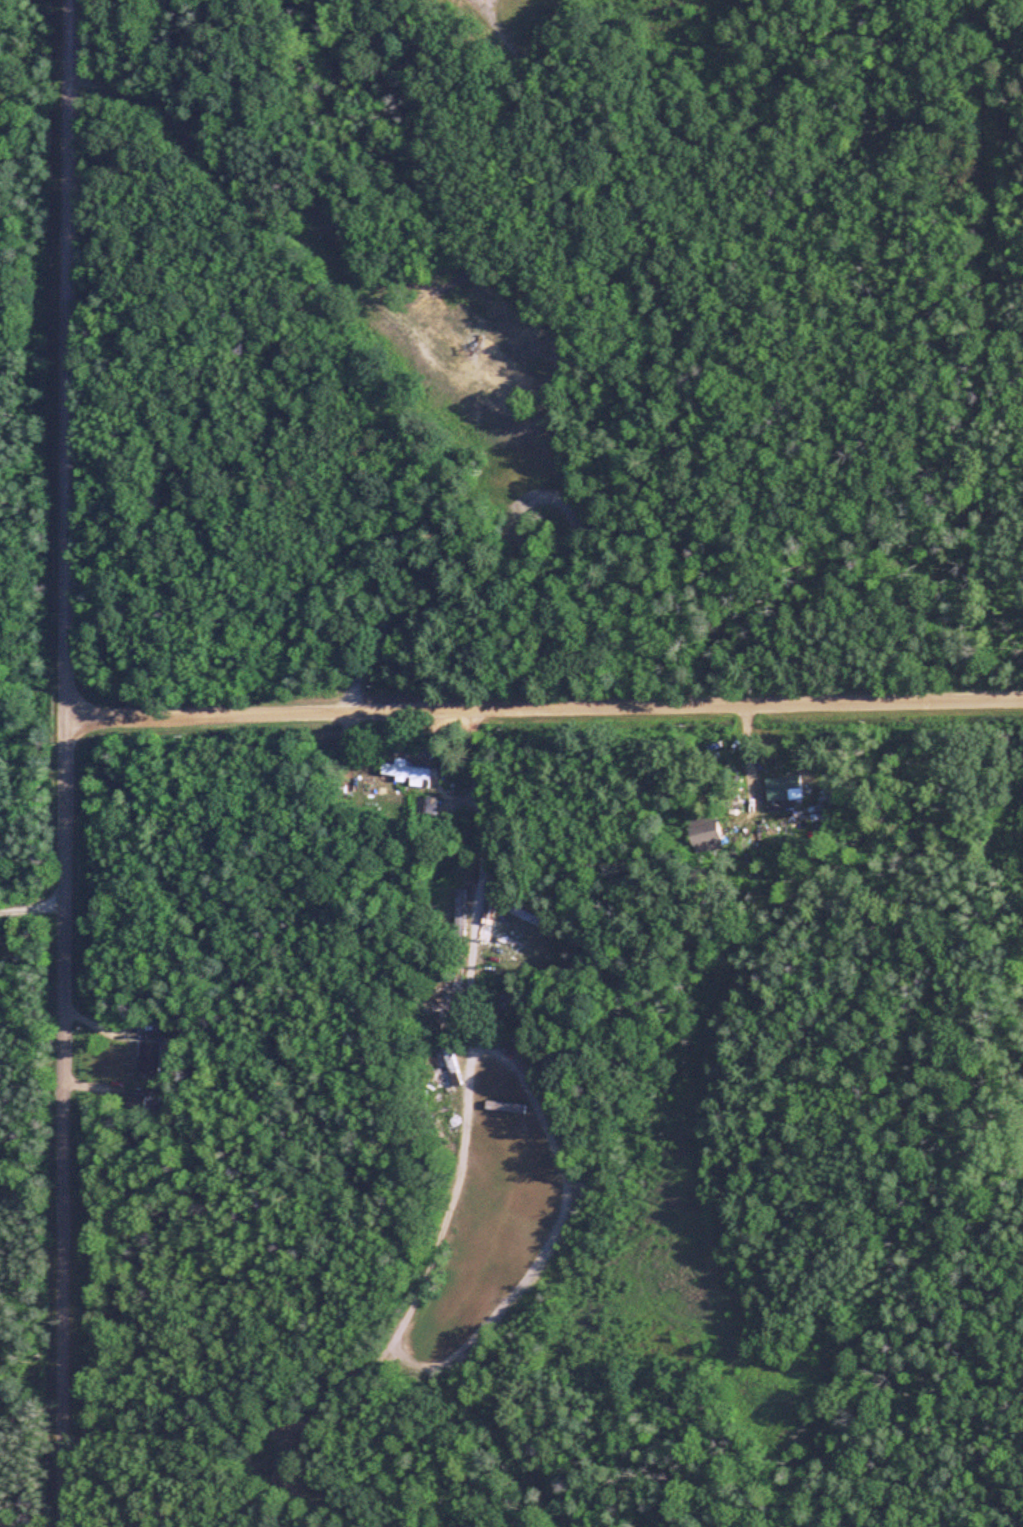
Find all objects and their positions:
petroleum well: (470, 344)
road: (462, 381)
road: (546, 708)
road: (69, 763)
building: (407, 773)
building: (779, 783)
building: (702, 832)
building: (466, 889)
building: (147, 1031)
building: (148, 1060)
road: (475, 1143)
building: (278, 1475)

